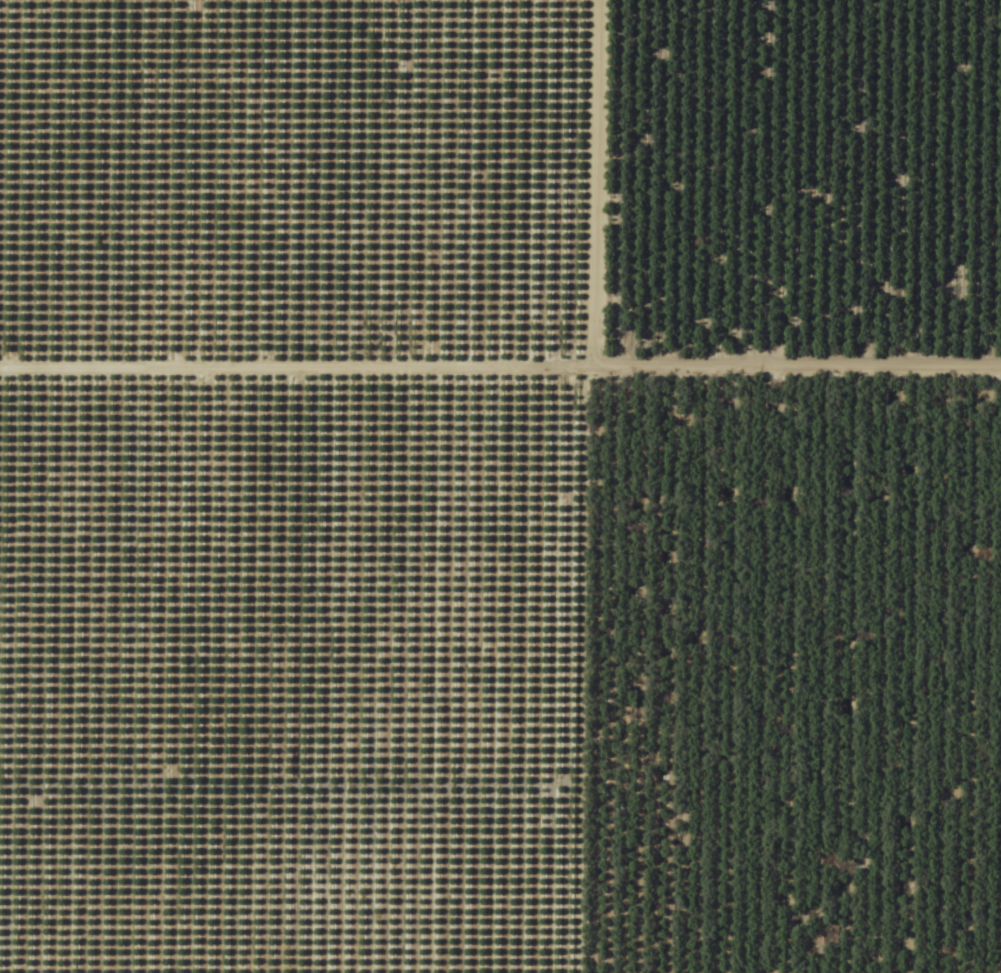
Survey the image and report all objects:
crop: (500, 486)
road: (508, 486)

